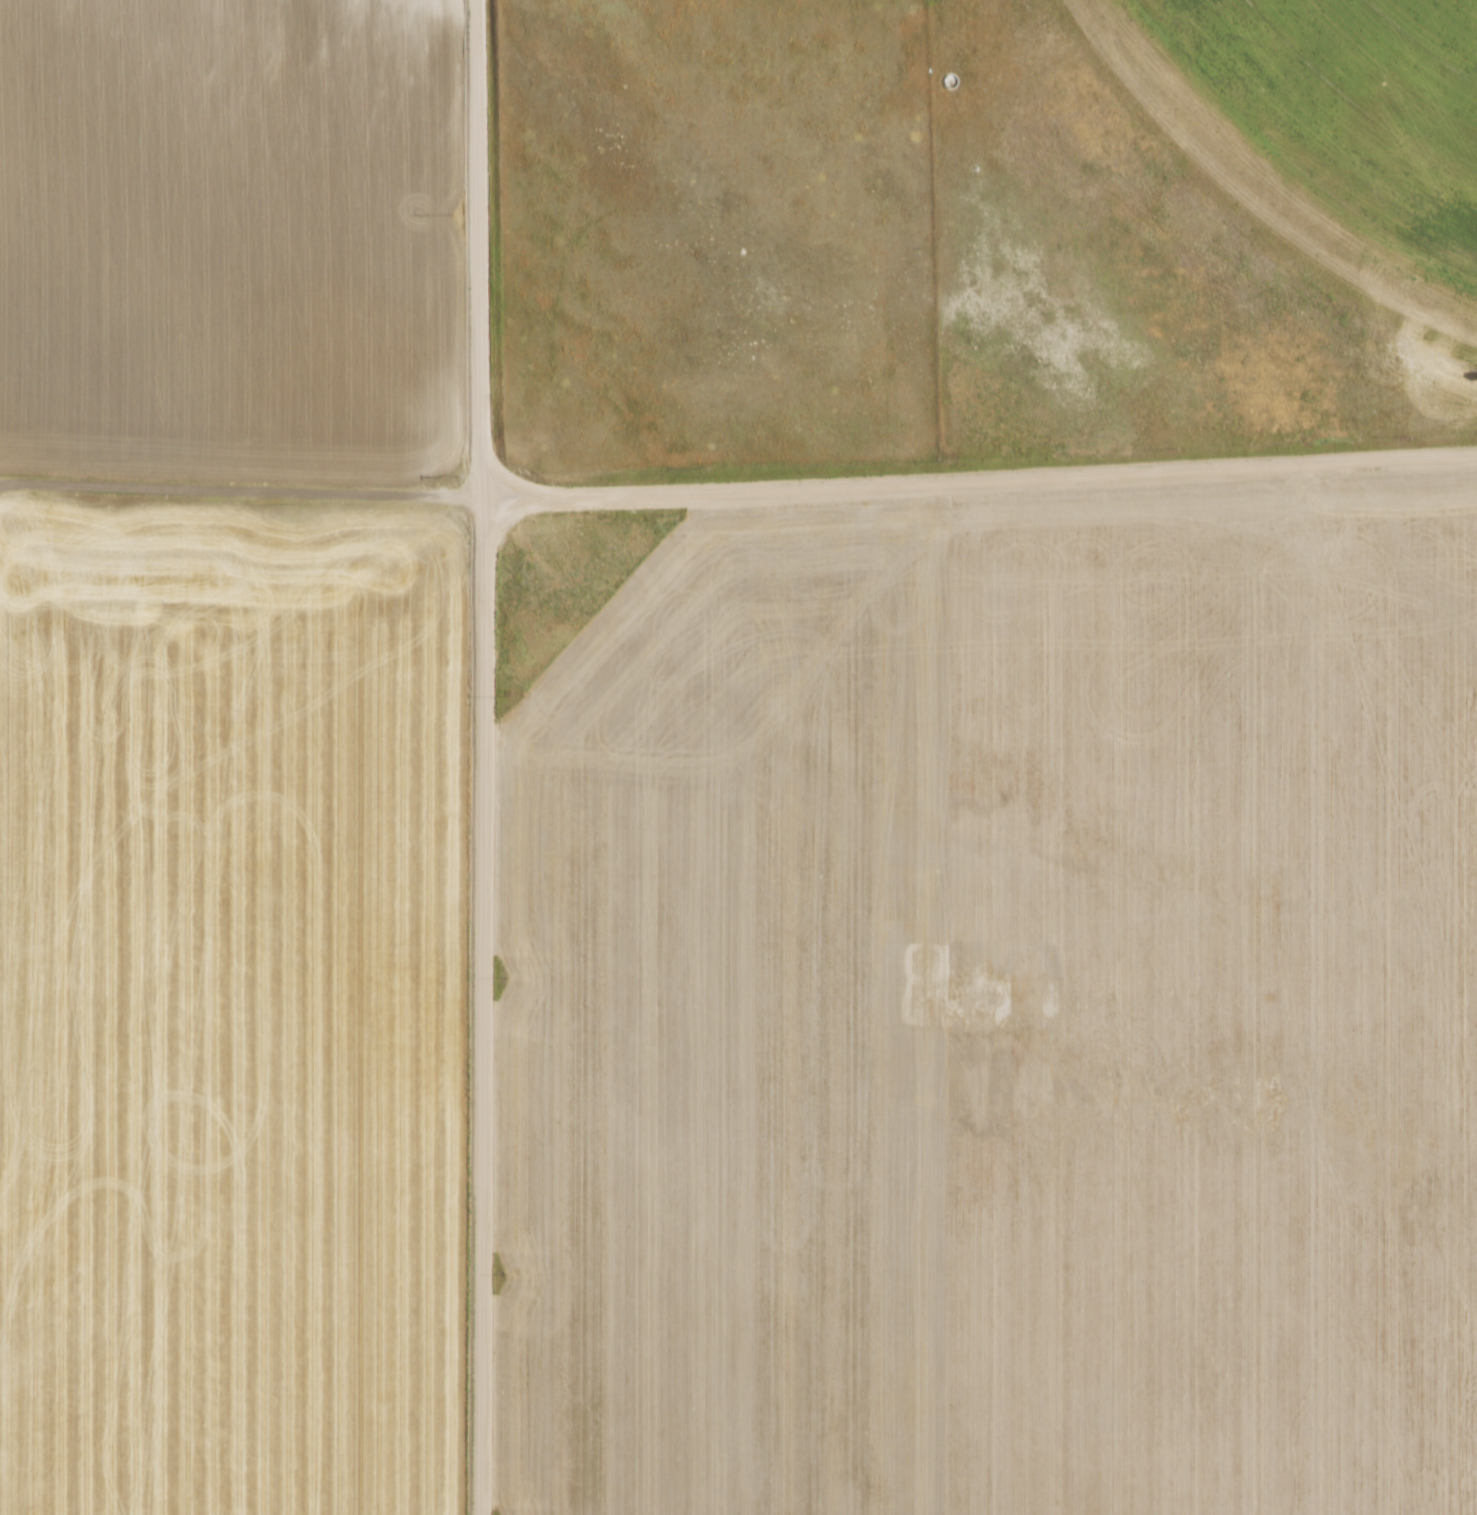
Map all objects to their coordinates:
road: (738, 494)
road: (481, 757)

